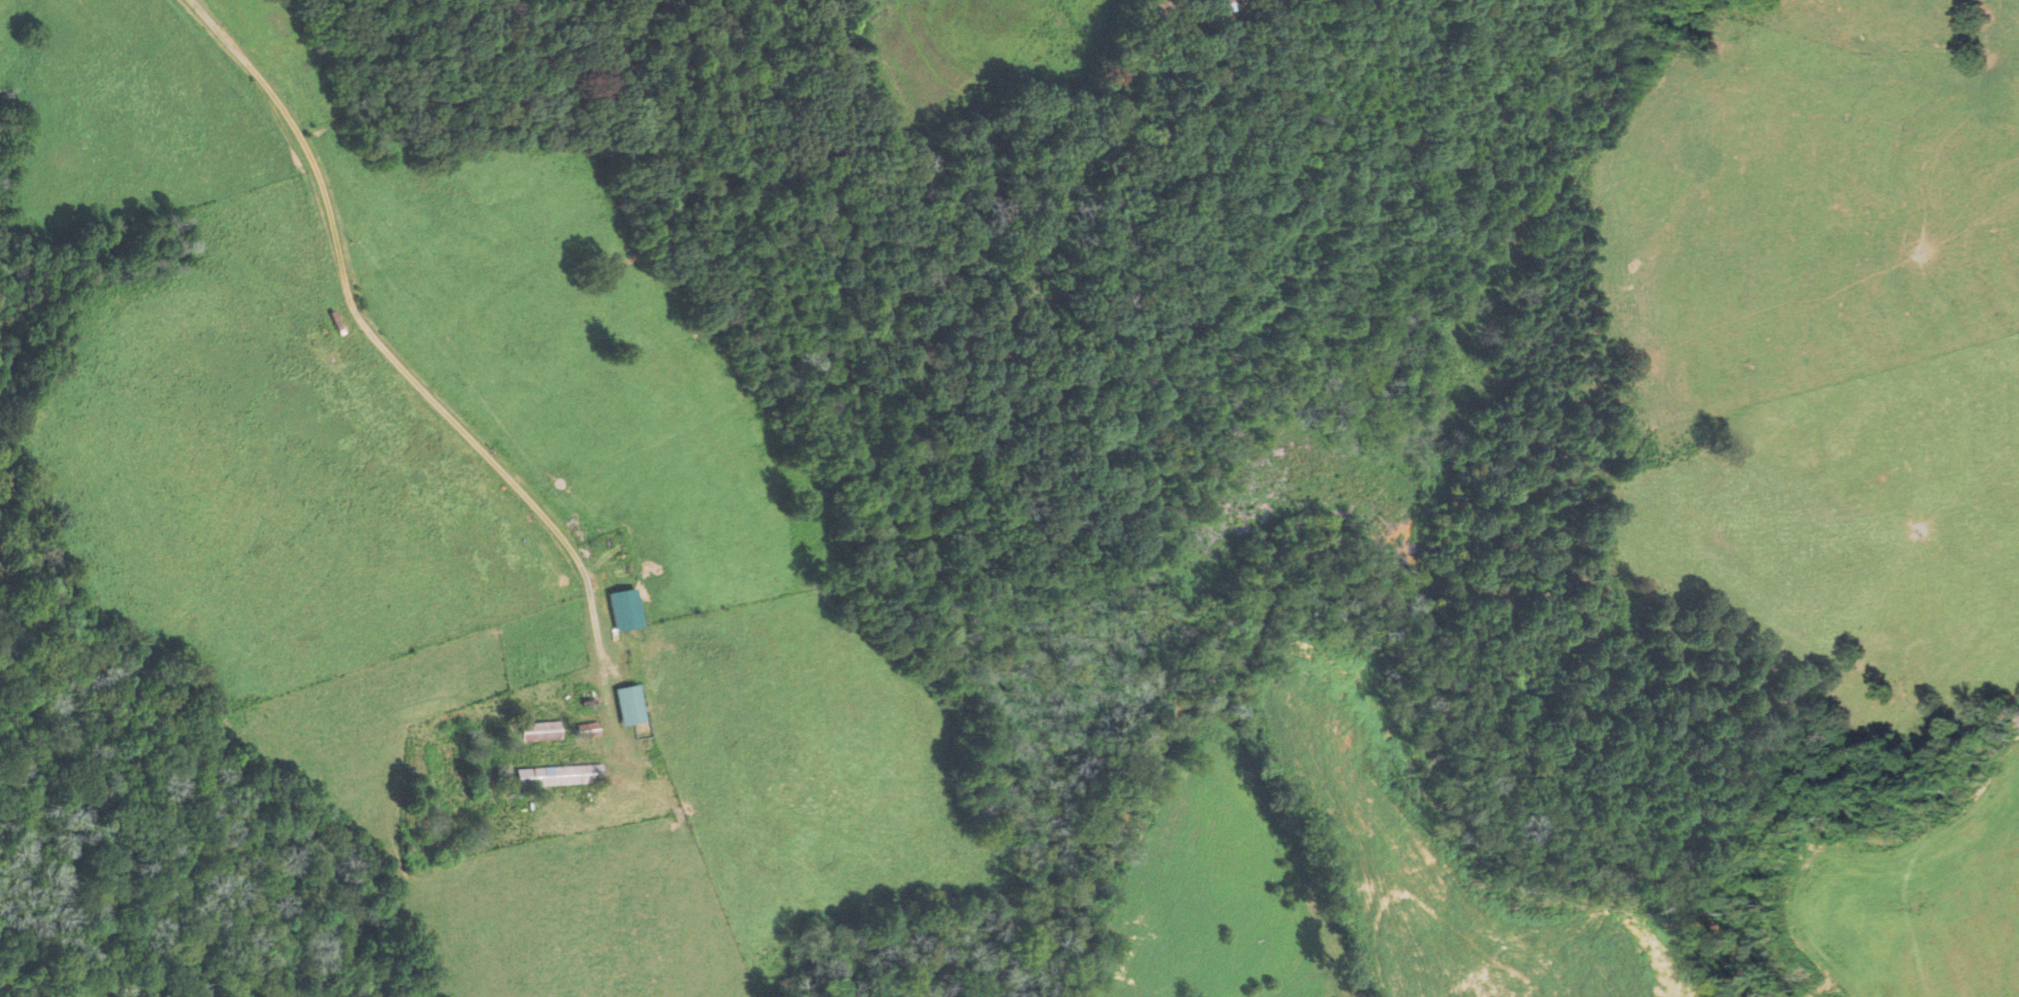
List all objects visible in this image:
building: (1224, 6)
road: (363, 326)
building: (627, 612)
building: (585, 730)
building: (538, 731)
building: (557, 775)

